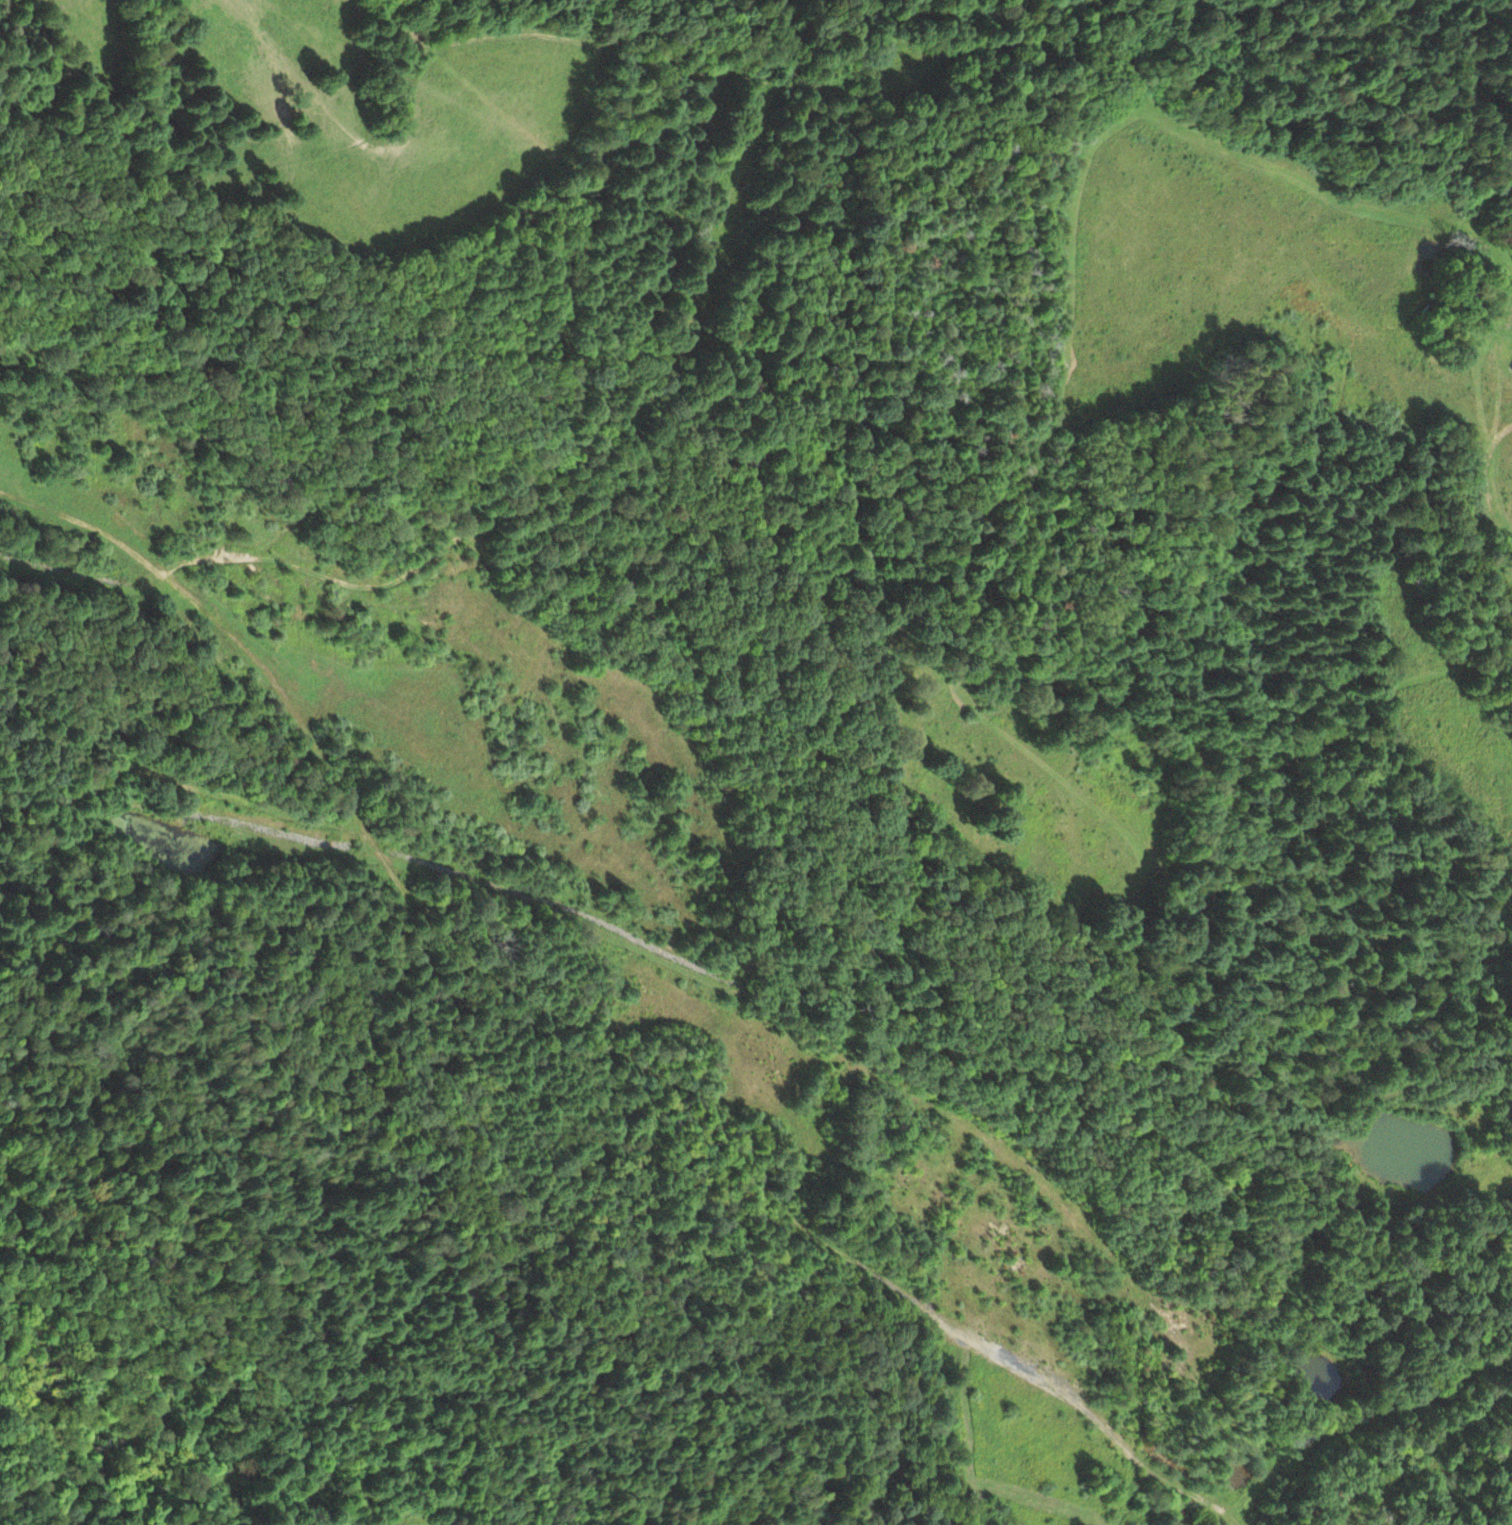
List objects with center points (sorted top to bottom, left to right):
building: (1511, 371)
road: (593, 1032)
road: (203, 1499)

